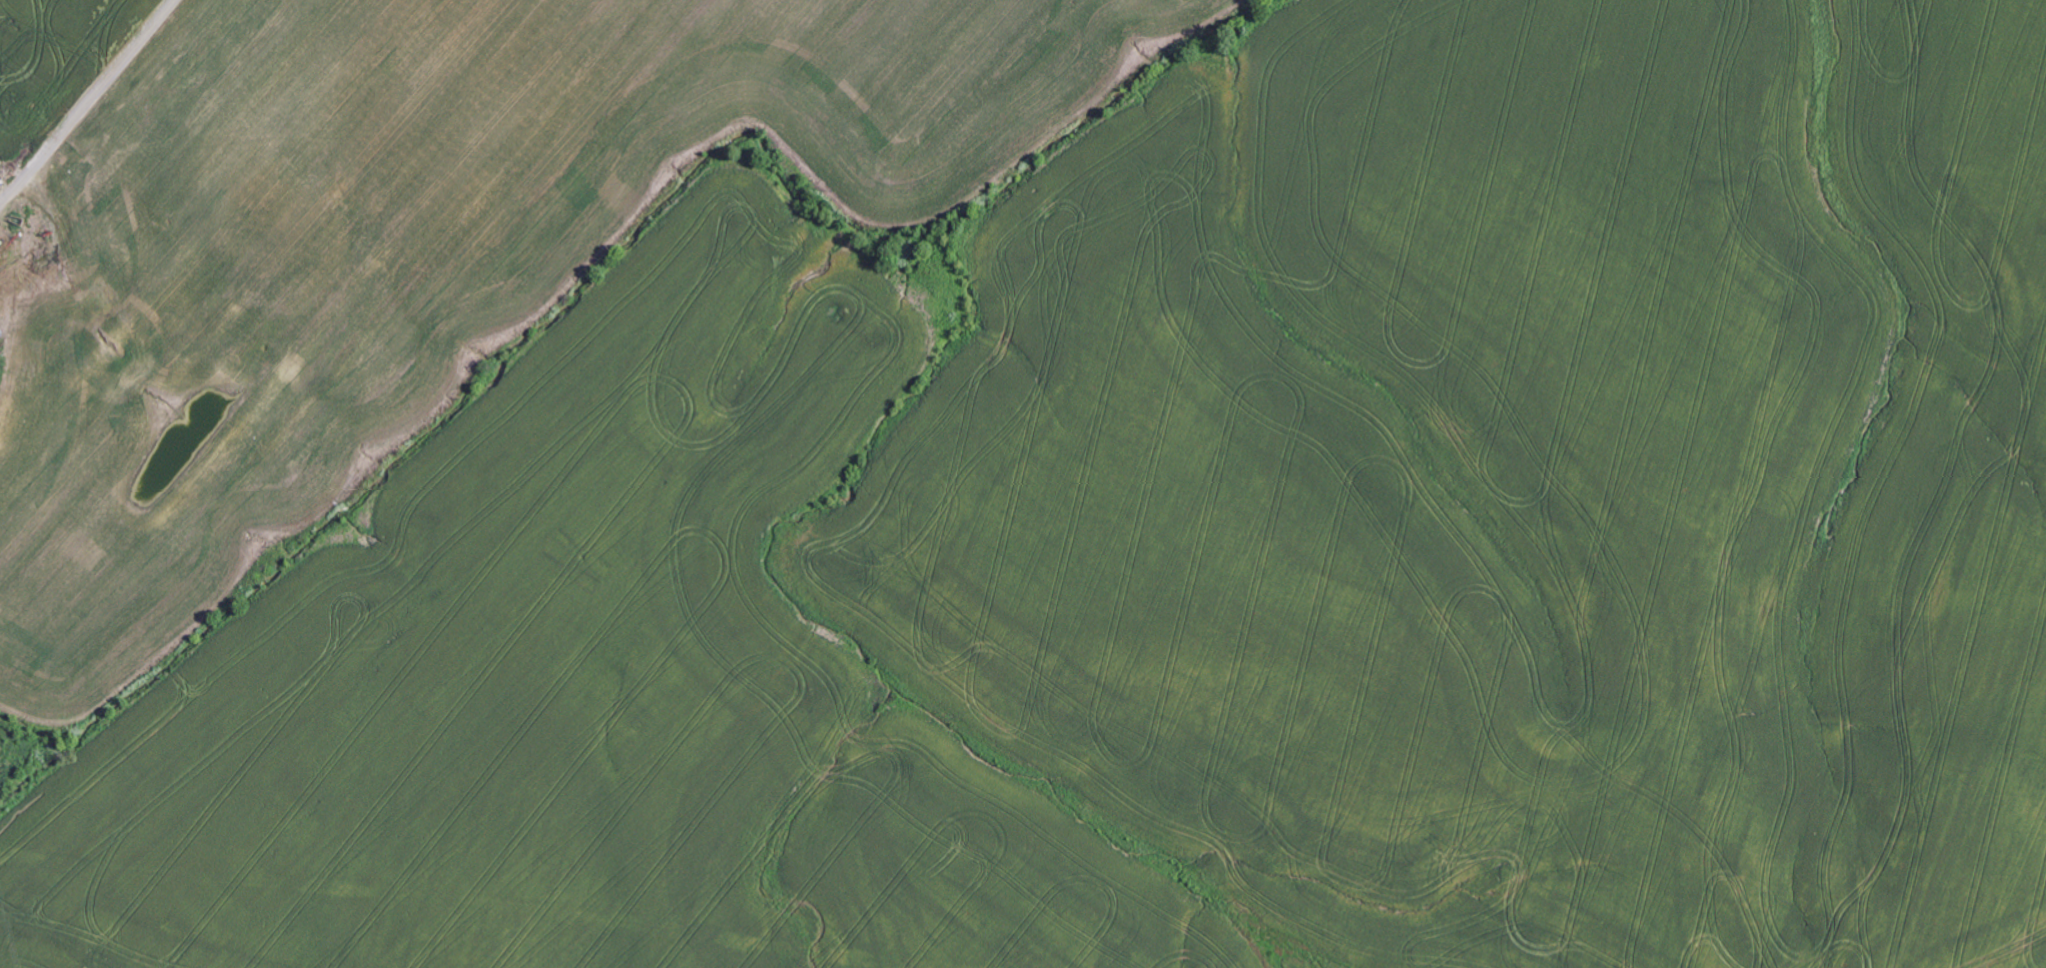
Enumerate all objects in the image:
road: (84, 100)

